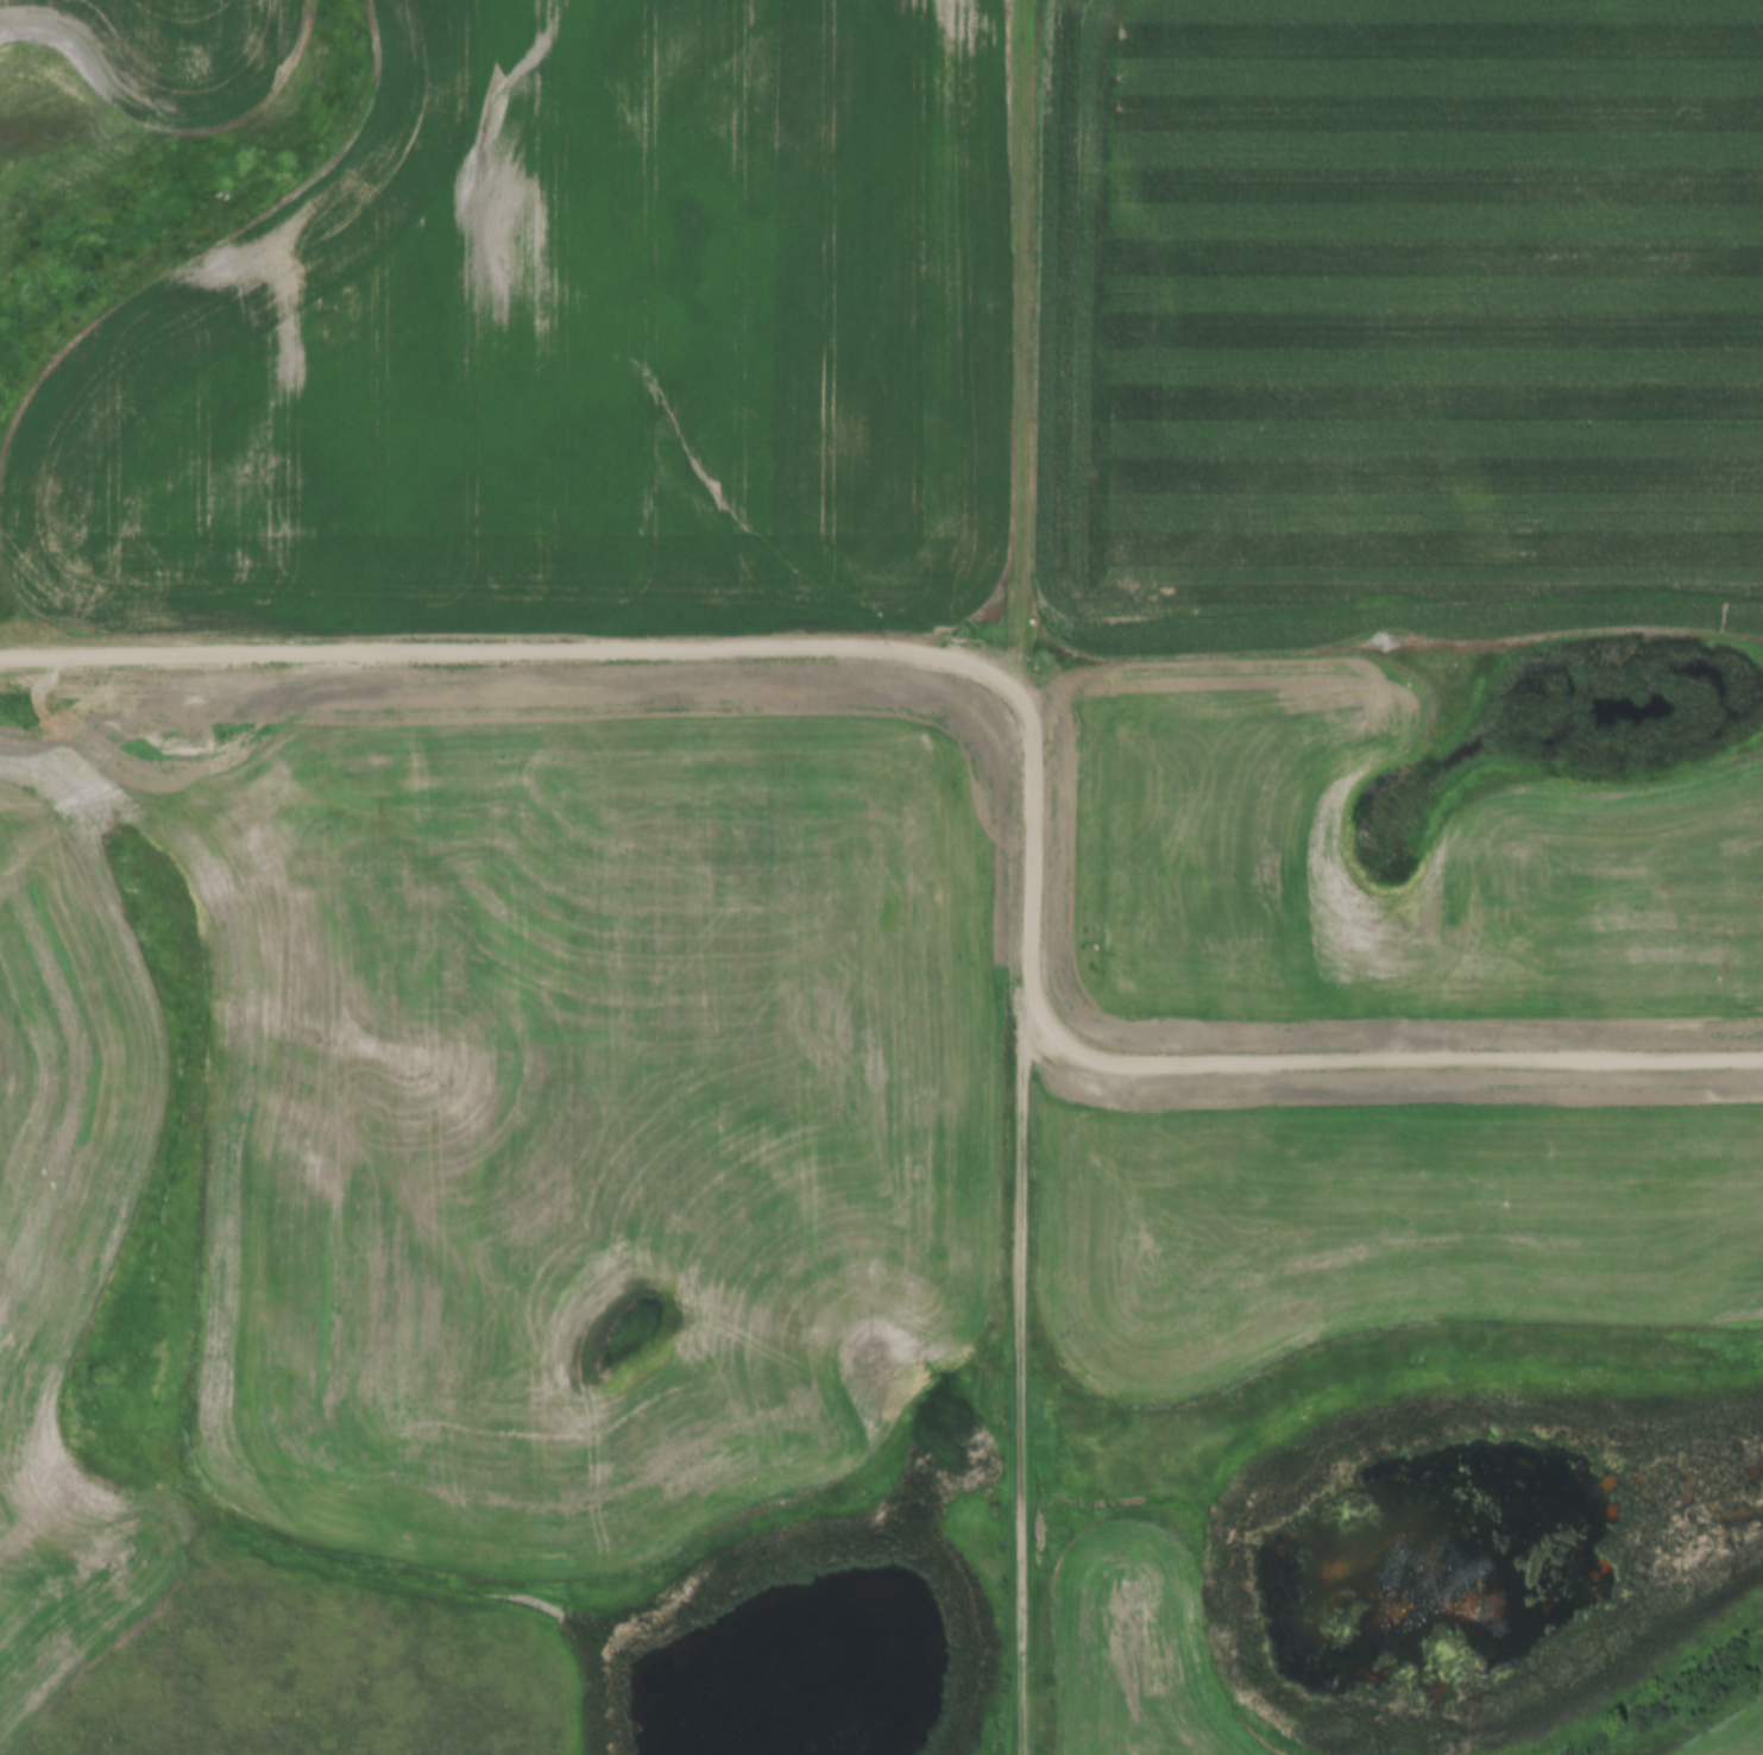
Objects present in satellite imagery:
road: (520, 650)
road: (1024, 1215)

